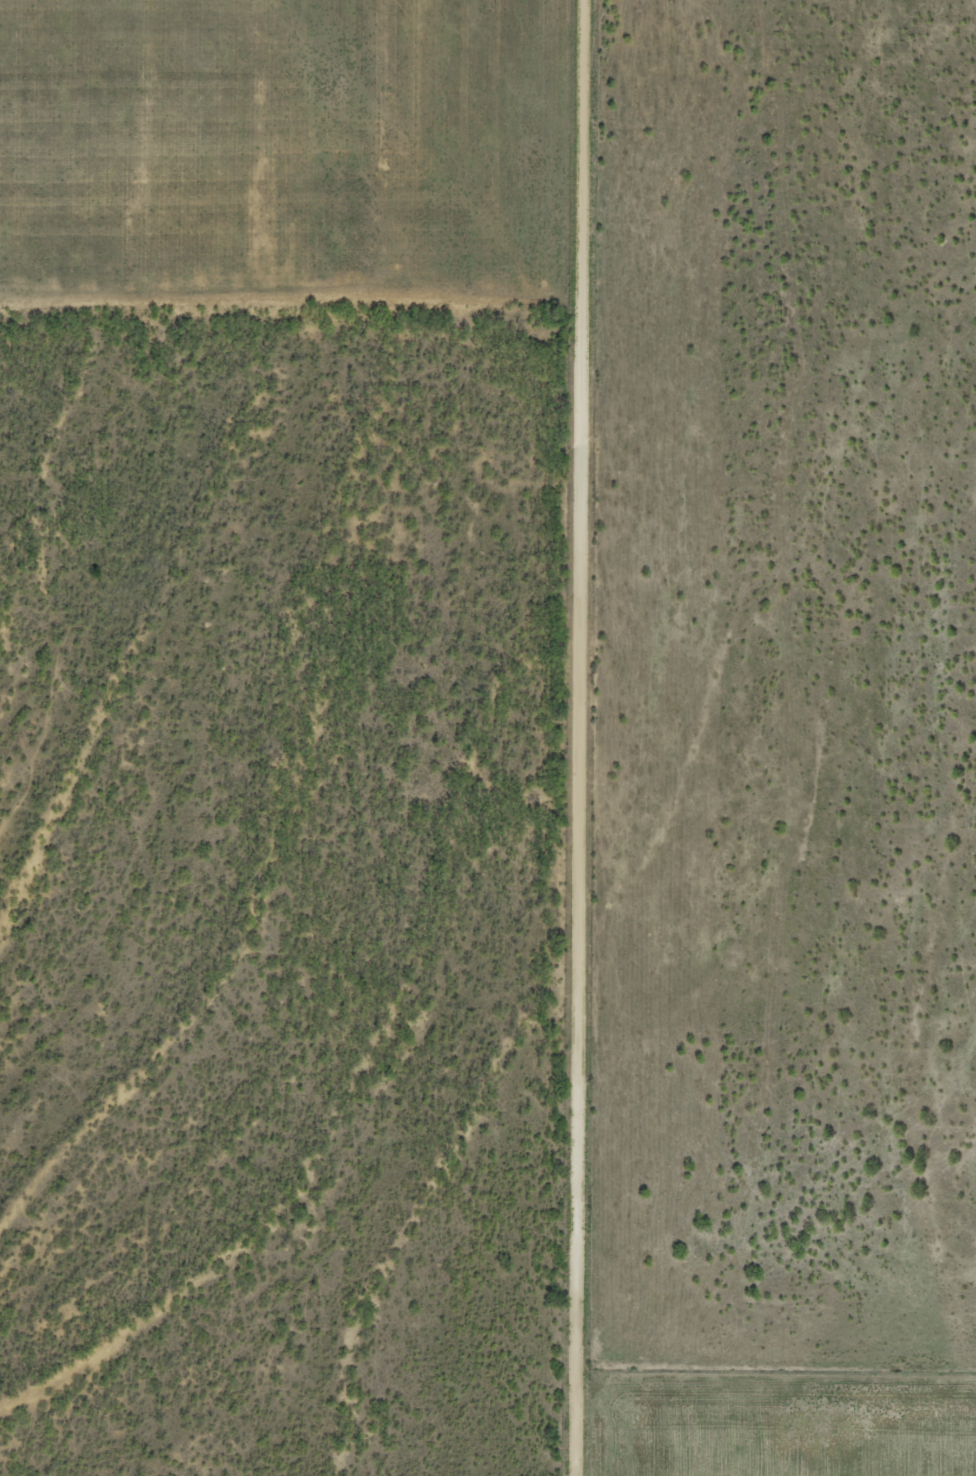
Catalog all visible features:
road: (591, 738)

